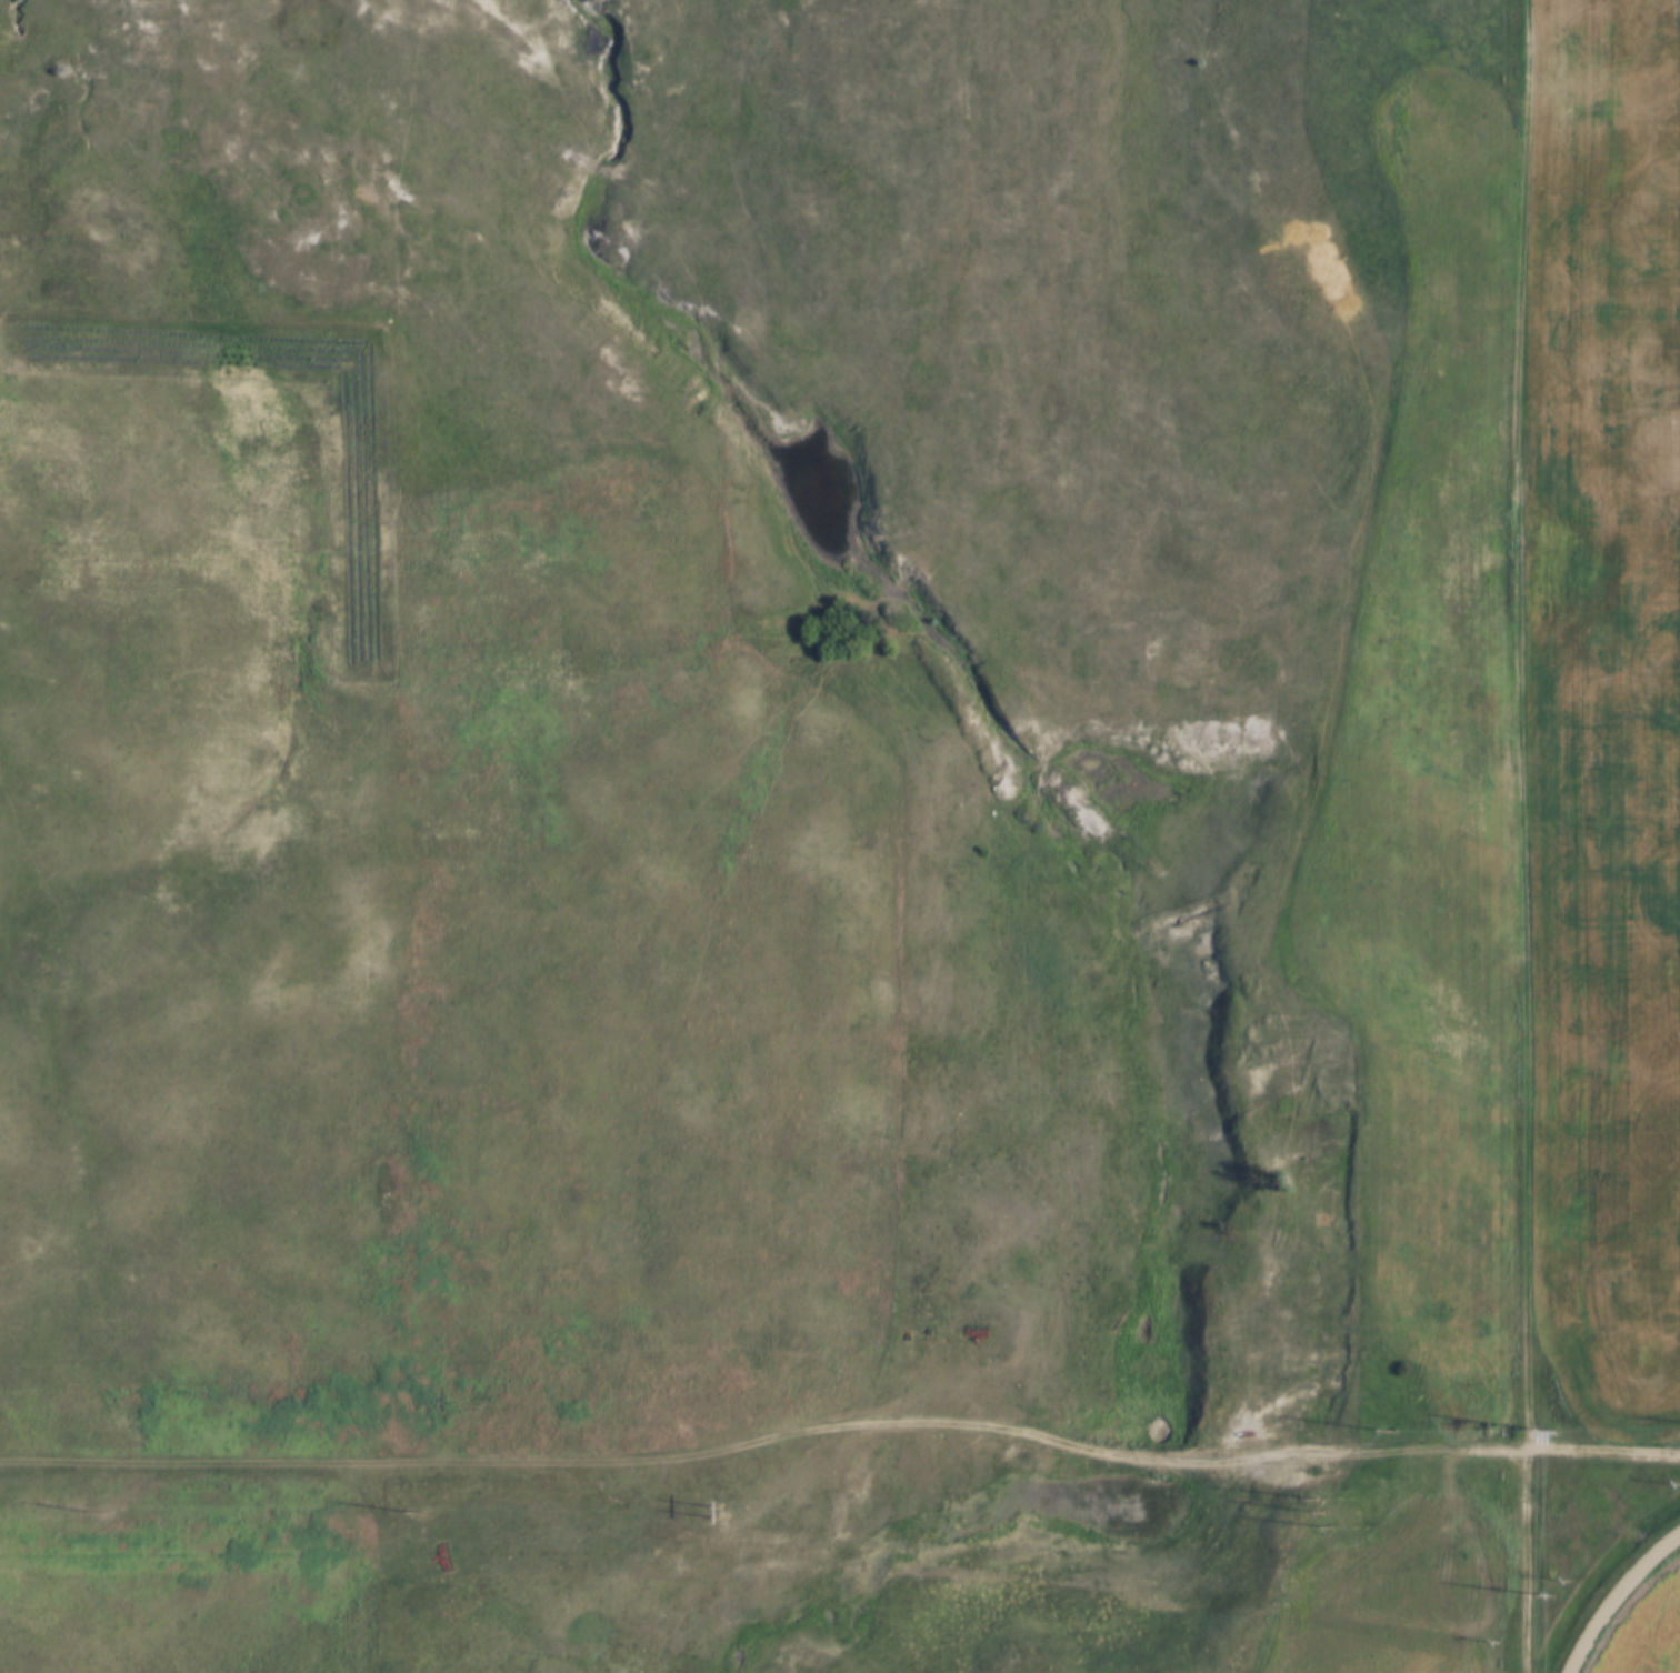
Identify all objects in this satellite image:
road: (170, 260)
road: (896, 740)
road: (1519, 836)
road: (397, 924)
road: (1032, 1432)
road: (193, 1464)
road: (1616, 1595)

